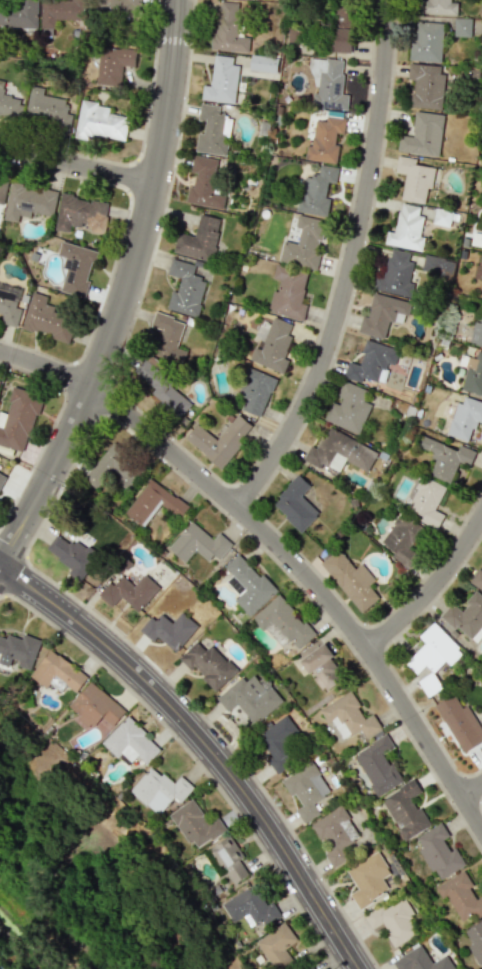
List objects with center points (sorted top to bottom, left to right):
building: (440, 7)
building: (118, 9)
building: (62, 11)
building: (18, 13)
building: (462, 27)
building: (228, 28)
building: (342, 31)
building: (427, 41)
building: (113, 63)
building: (263, 64)
building: (222, 81)
building: (328, 84)
building: (427, 85)
building: (9, 106)
building: (46, 109)
building: (99, 122)
building: (212, 131)
building: (423, 135)
building: (325, 140)
road: (77, 166)
building: (414, 179)
building: (205, 183)
building: (316, 191)
building: (2, 192)
building: (28, 201)
building: (78, 212)
building: (442, 217)
building: (407, 228)
building: (199, 239)
building: (304, 243)
road: (351, 266)
building: (437, 266)
building: (76, 267)
building: (396, 273)
building: (187, 287)
road: (125, 292)
building: (288, 293)
building: (9, 304)
building: (383, 315)
building: (47, 318)
building: (476, 334)
building: (168, 337)
building: (273, 346)
building: (371, 362)
building: (473, 375)
building: (255, 390)
building: (348, 408)
building: (465, 418)
building: (18, 419)
building: (219, 440)
building: (339, 451)
building: (446, 458)
building: (119, 465)
building: (1, 477)
building: (427, 502)
building: (154, 503)
building: (295, 504)
building: (402, 537)
building: (198, 544)
road: (280, 548)
building: (71, 554)
building: (477, 578)
building: (351, 580)
building: (248, 585)
building: (130, 591)
road: (431, 591)
building: (467, 617)
building: (283, 622)
building: (170, 630)
building: (18, 650)
building: (434, 650)
building: (208, 664)
building: (322, 667)
building: (58, 672)
building: (251, 697)
building: (95, 706)
building: (349, 717)
building: (460, 722)
building: (130, 742)
road: (206, 743)
building: (279, 743)
building: (378, 765)
building: (159, 790)
building: (306, 790)
road: (472, 791)
building: (406, 810)
building: (196, 824)
building: (336, 835)
building: (439, 852)
building: (229, 858)
building: (368, 879)
building: (461, 896)
building: (251, 907)
building: (394, 921)
building: (475, 941)
building: (278, 945)
building: (420, 960)
building: (314, 967)

